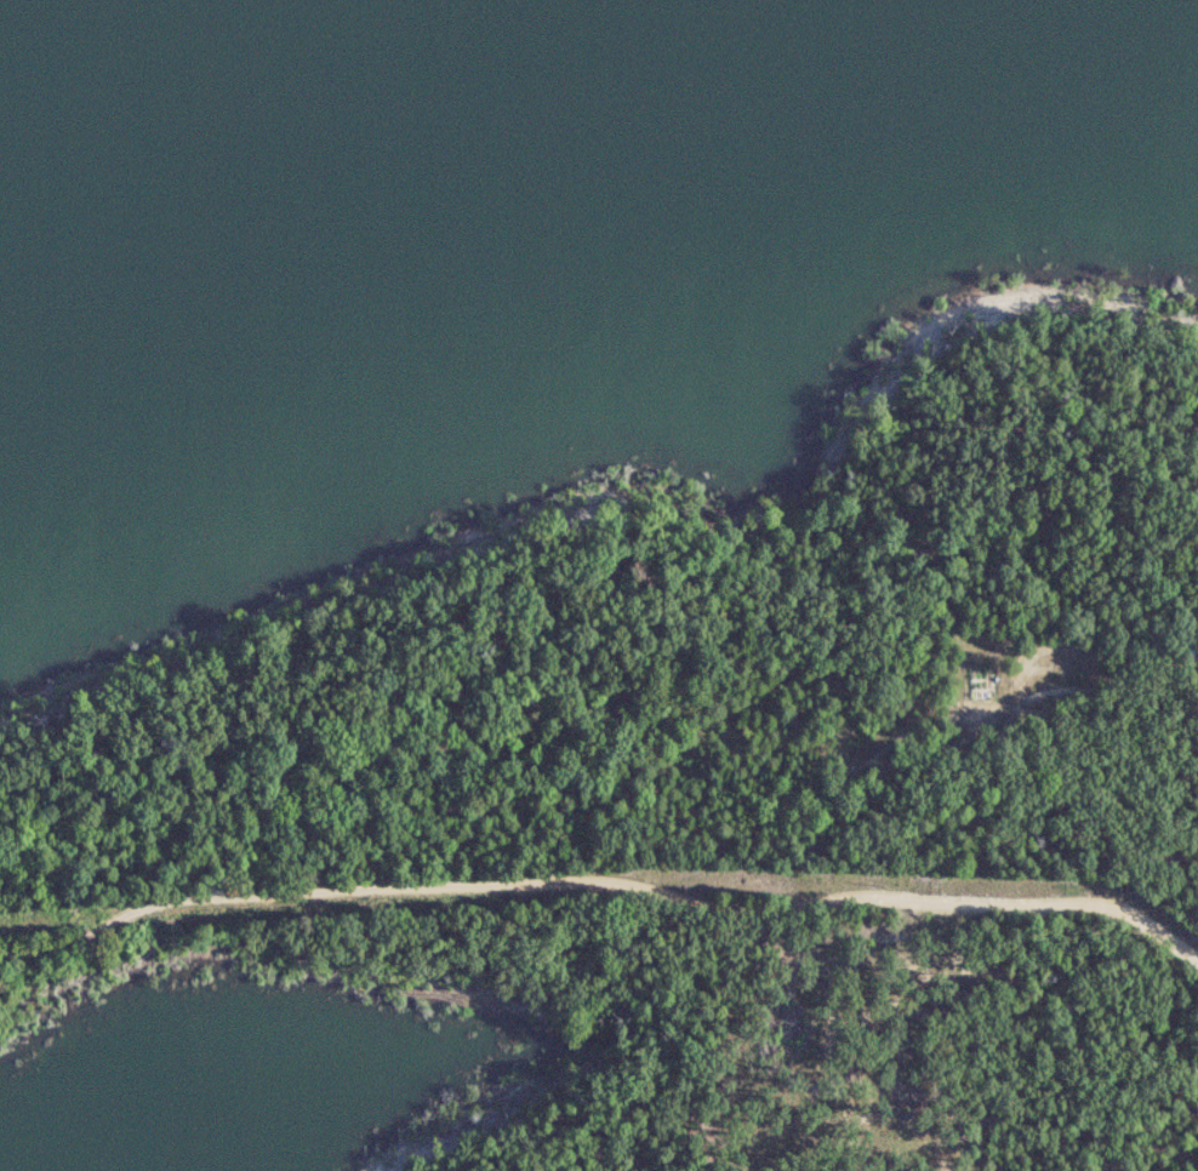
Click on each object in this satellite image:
road: (603, 880)

